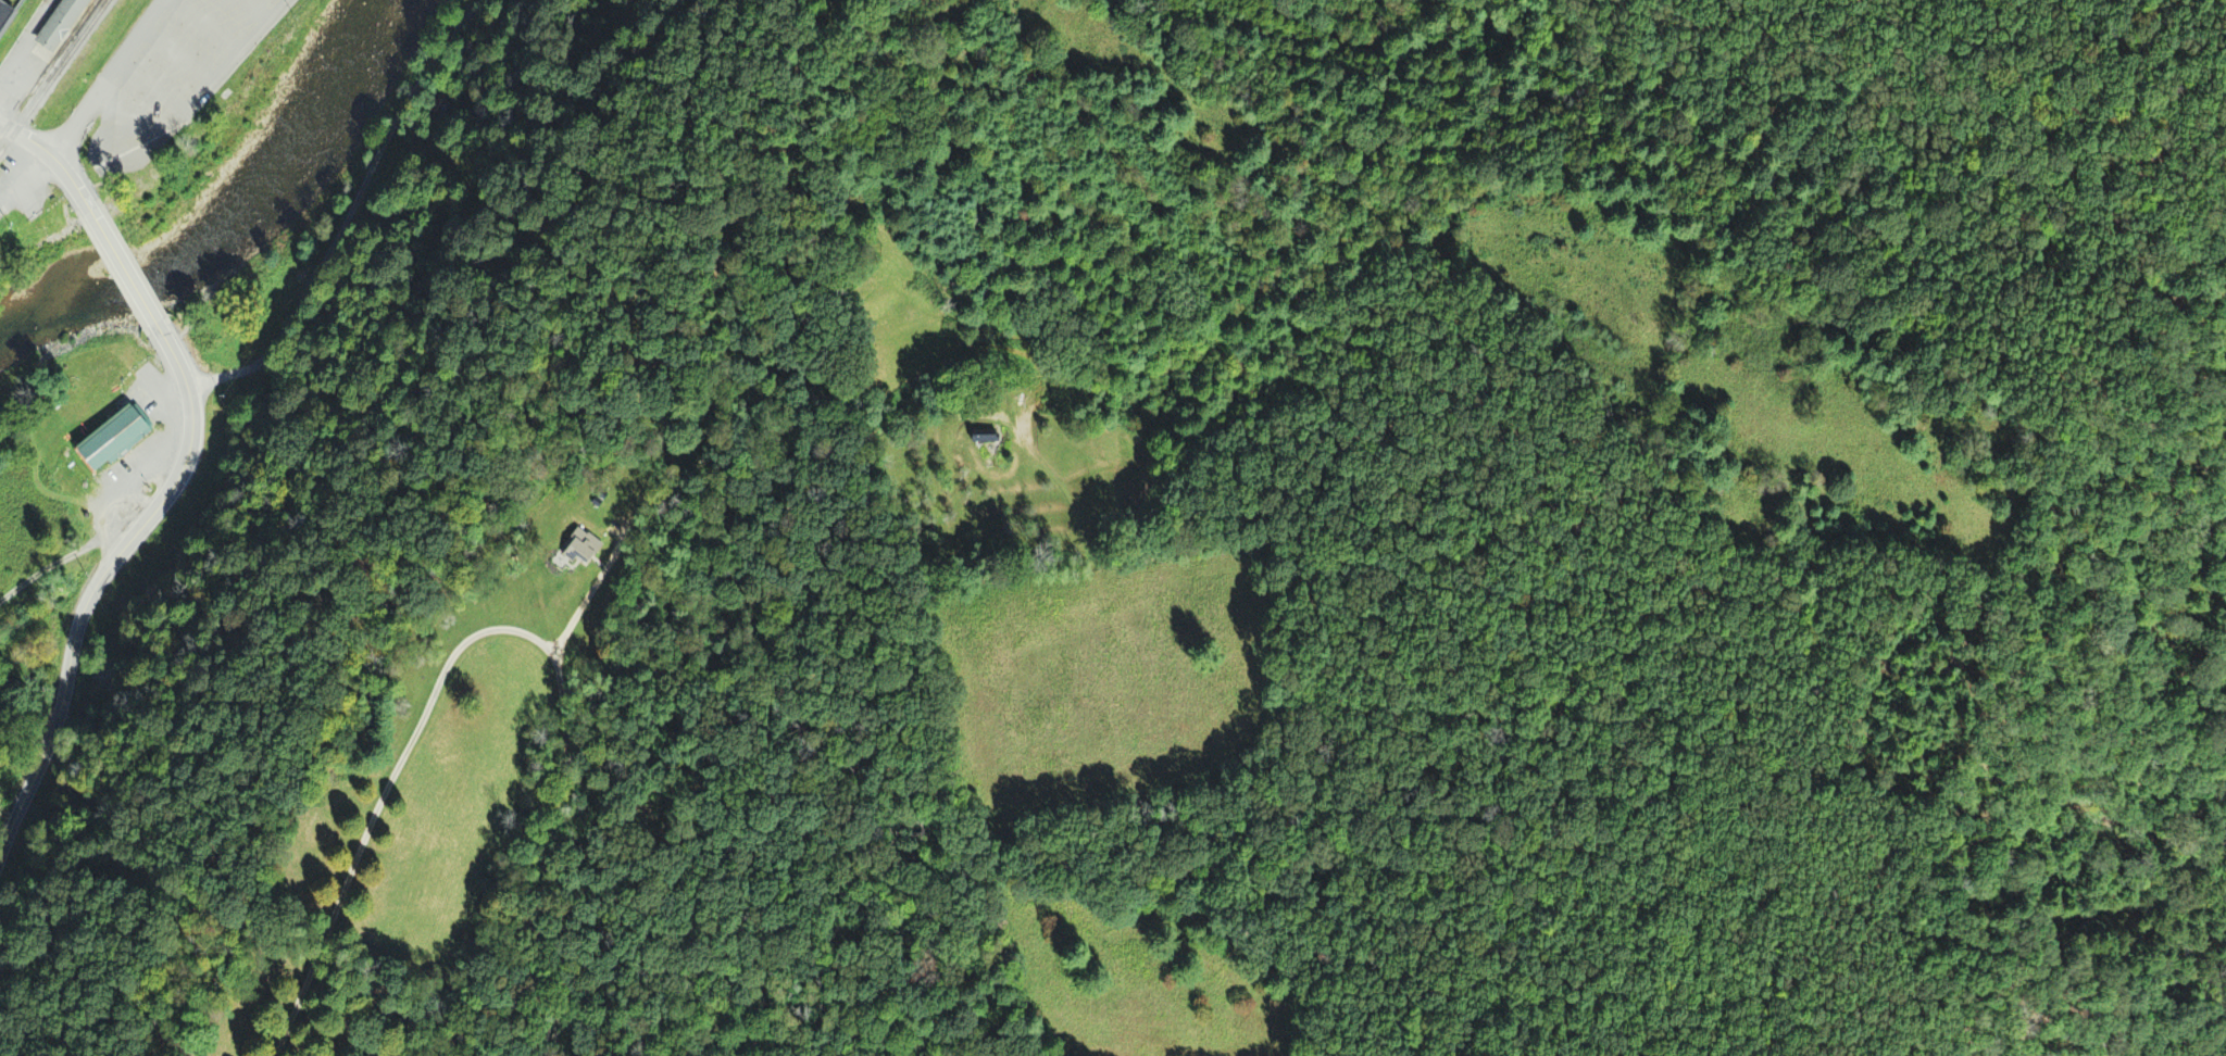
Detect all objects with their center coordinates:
road: (255, 9)
building: (7, 16)
building: (63, 23)
road: (207, 25)
railway: (16, 27)
road: (30, 41)
road: (178, 55)
railway: (47, 56)
railway: (50, 68)
railway: (54, 77)
parking lot: (179, 77)
road: (108, 79)
road: (151, 88)
road: (200, 97)
road: (52, 159)
road: (352, 213)
river: (239, 215)
road: (123, 269)
building: (984, 435)
building: (116, 438)
park: (329, 468)
road: (57, 563)
road: (98, 579)
road: (528, 859)

